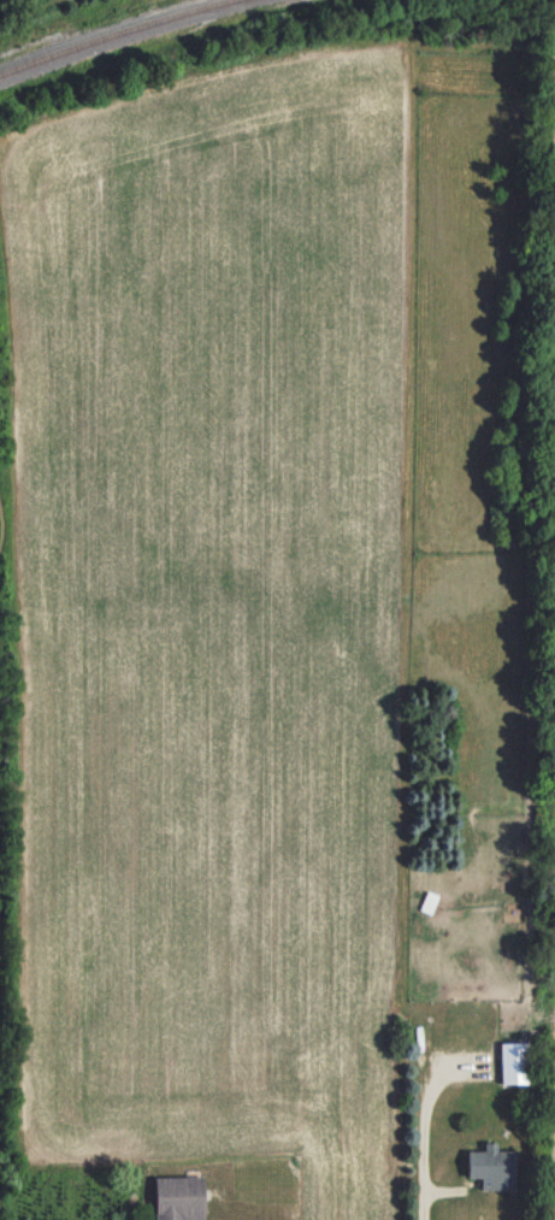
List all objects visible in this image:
railway: (67, 25)
crop: (549, 609)
building: (514, 1062)
road: (425, 1119)
building: (491, 1167)
building: (178, 1198)

